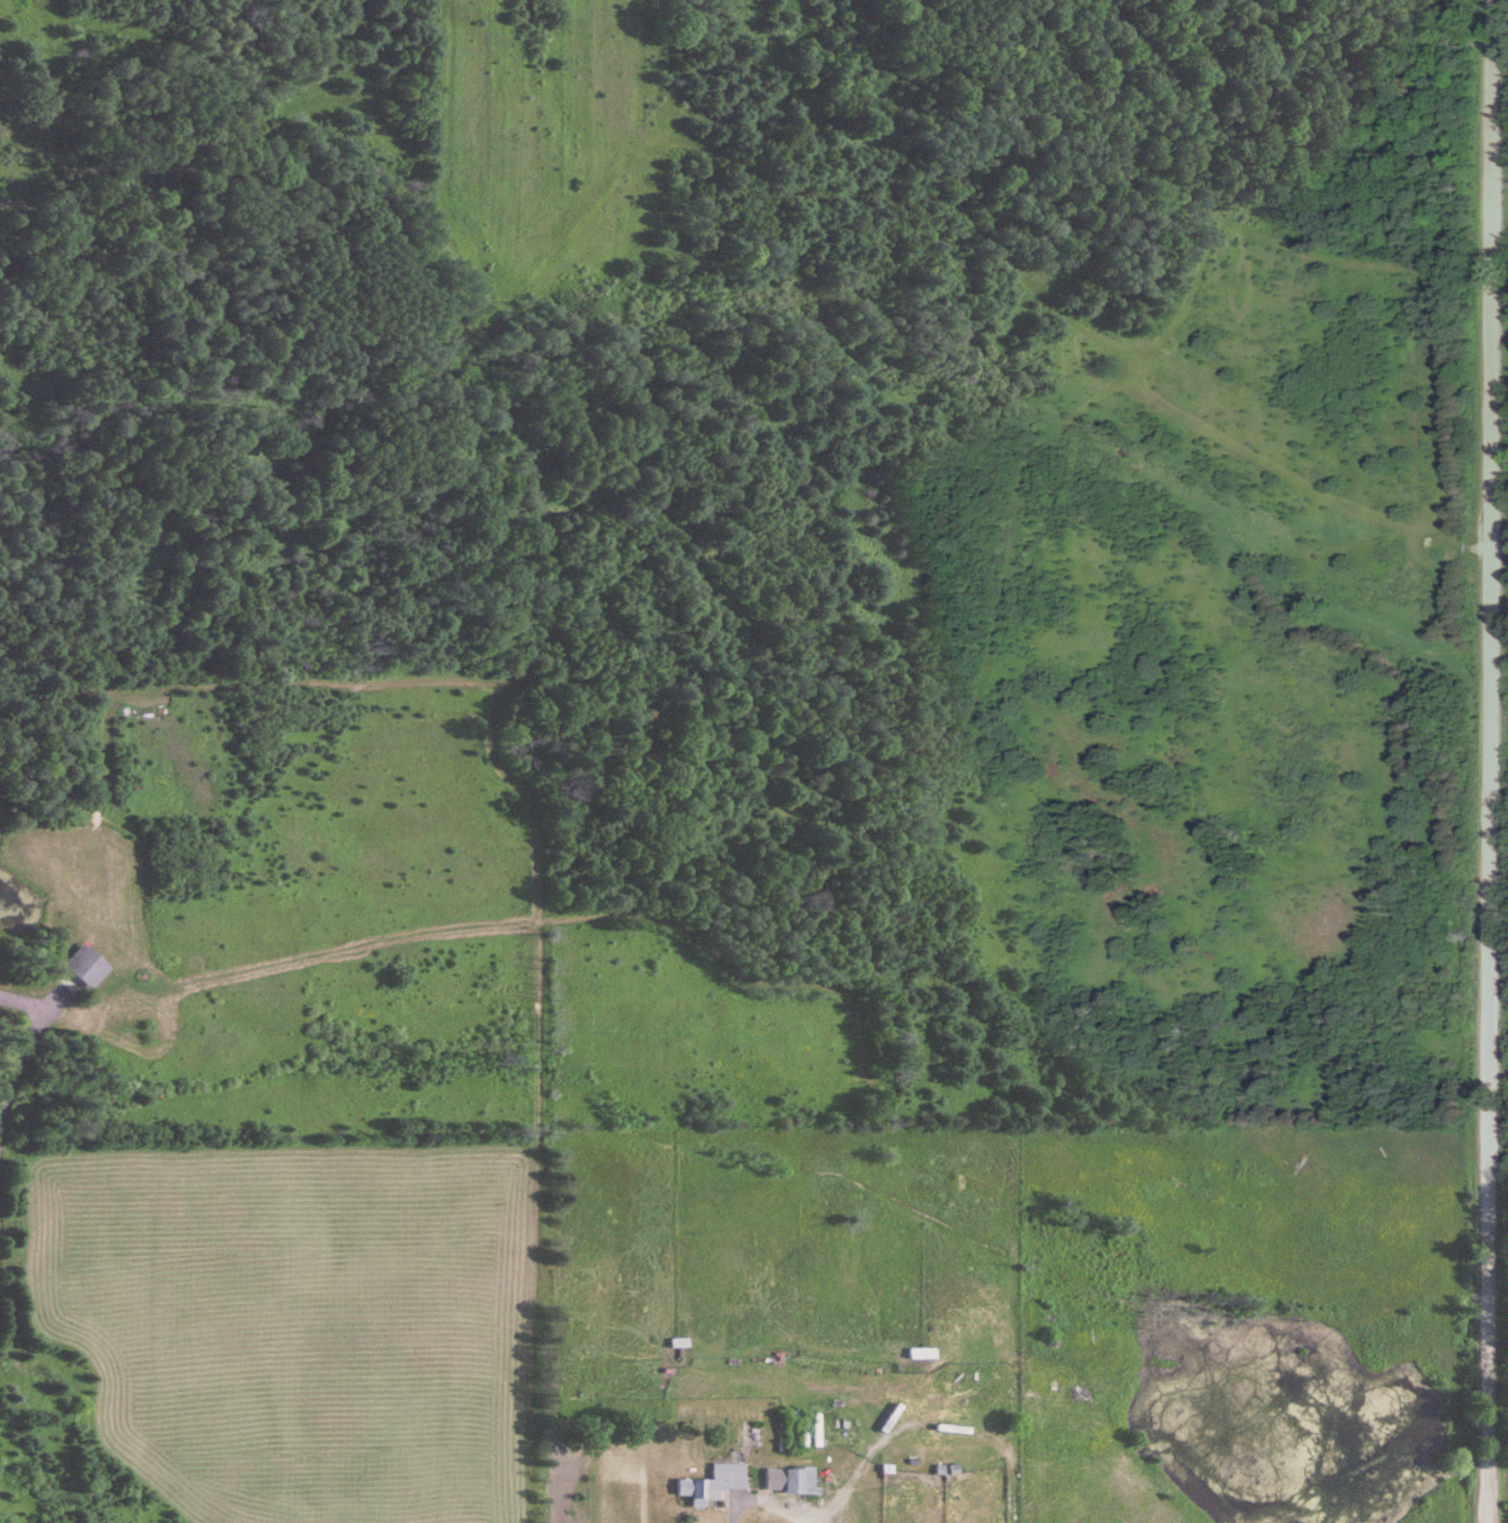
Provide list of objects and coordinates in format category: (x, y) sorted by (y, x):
road: (1493, 761)
building: (88, 964)
road: (27, 1048)
building: (680, 1342)
building: (923, 1352)
building: (791, 1478)
building: (716, 1481)
road: (765, 1499)

